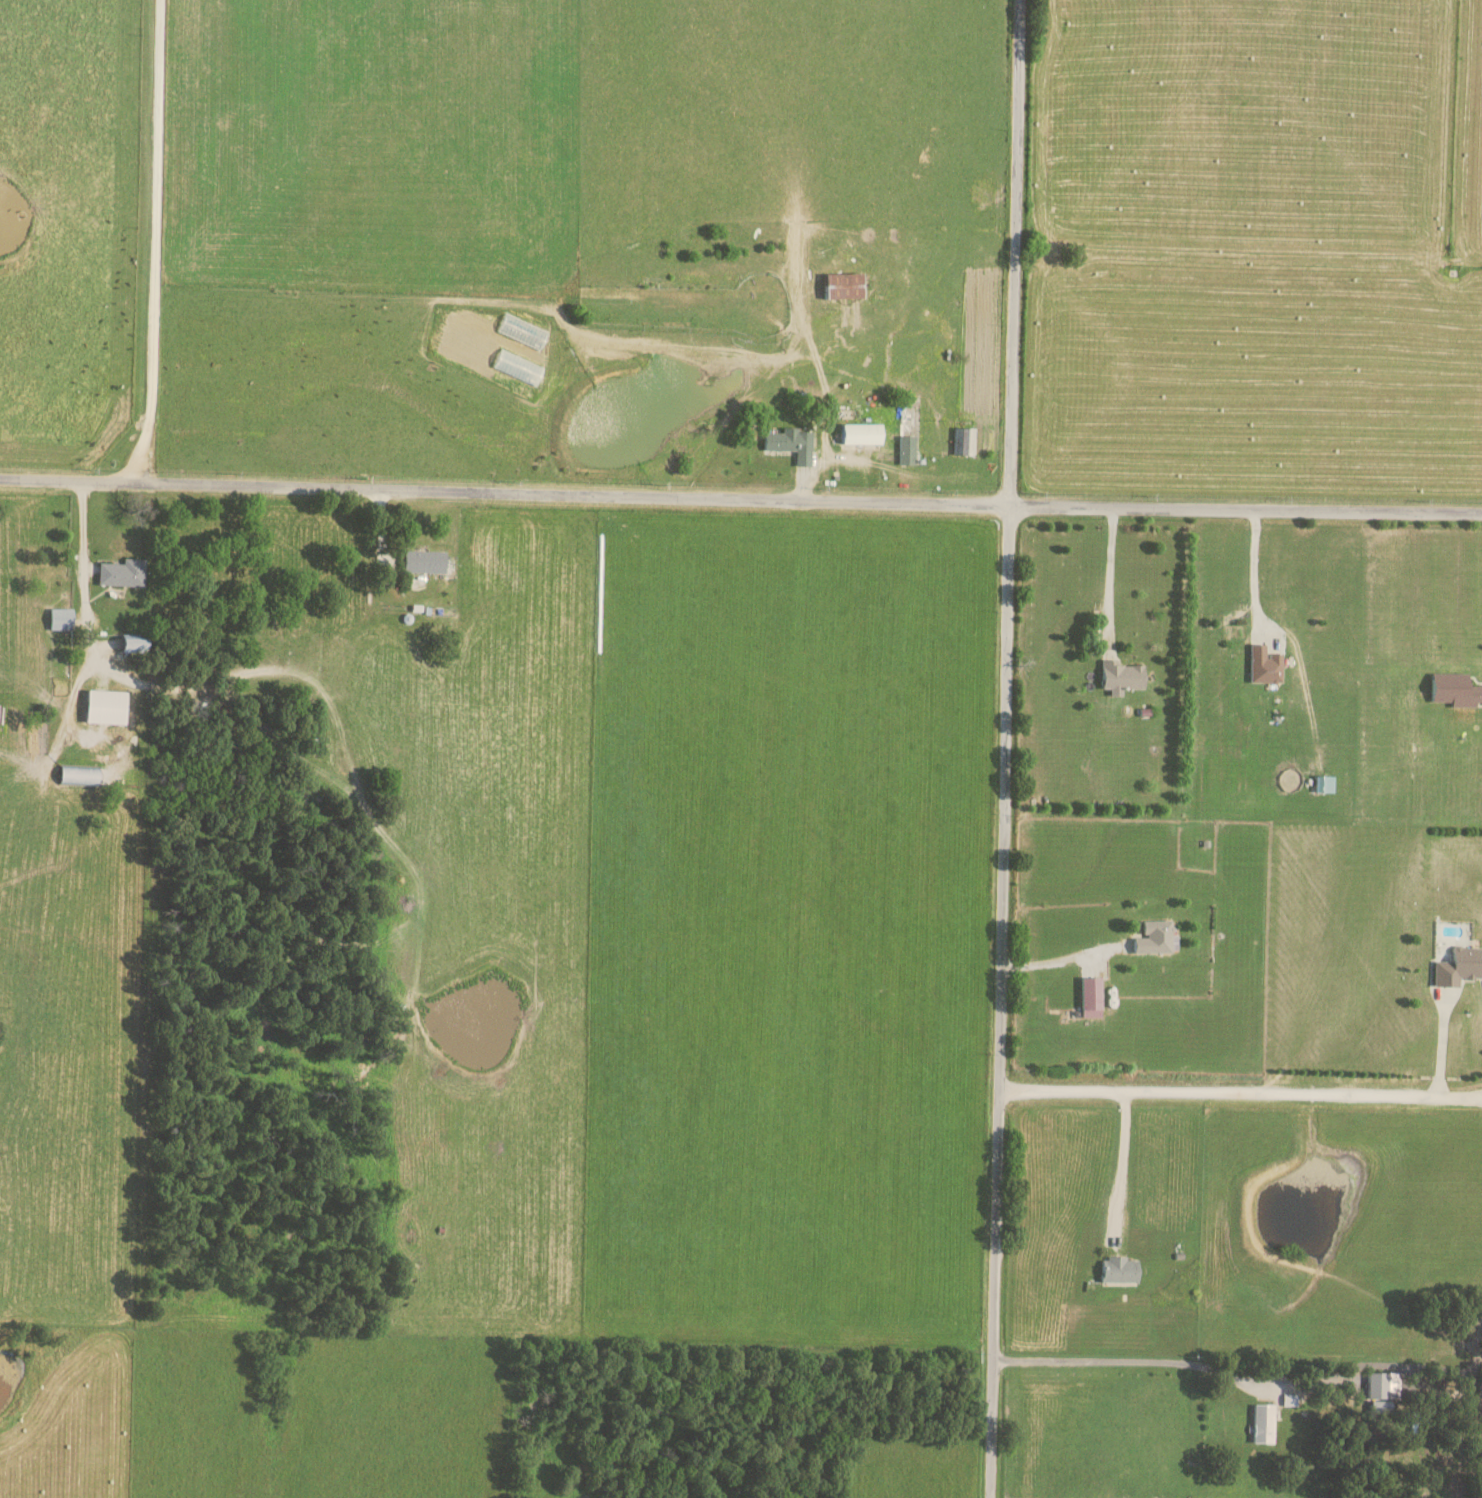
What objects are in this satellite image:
road: (123, 161)
road: (152, 242)
building: (844, 286)
building: (862, 434)
building: (964, 441)
building: (791, 444)
building: (906, 450)
road: (740, 502)
building: (424, 562)
road: (80, 565)
road: (1254, 569)
building: (121, 573)
road: (1109, 575)
building: (60, 619)
building: (134, 643)
building: (1266, 665)
building: (1122, 677)
building: (1455, 690)
building: (106, 707)
road: (1005, 749)
building: (78, 776)
building: (1154, 936)
road: (1055, 960)
building: (1458, 966)
building: (1090, 996)
road: (1440, 1048)
road: (1238, 1092)
road: (1120, 1159)
building: (1120, 1269)
road: (1124, 1361)
building: (1383, 1385)
building: (1381, 1405)
building: (1263, 1423)

